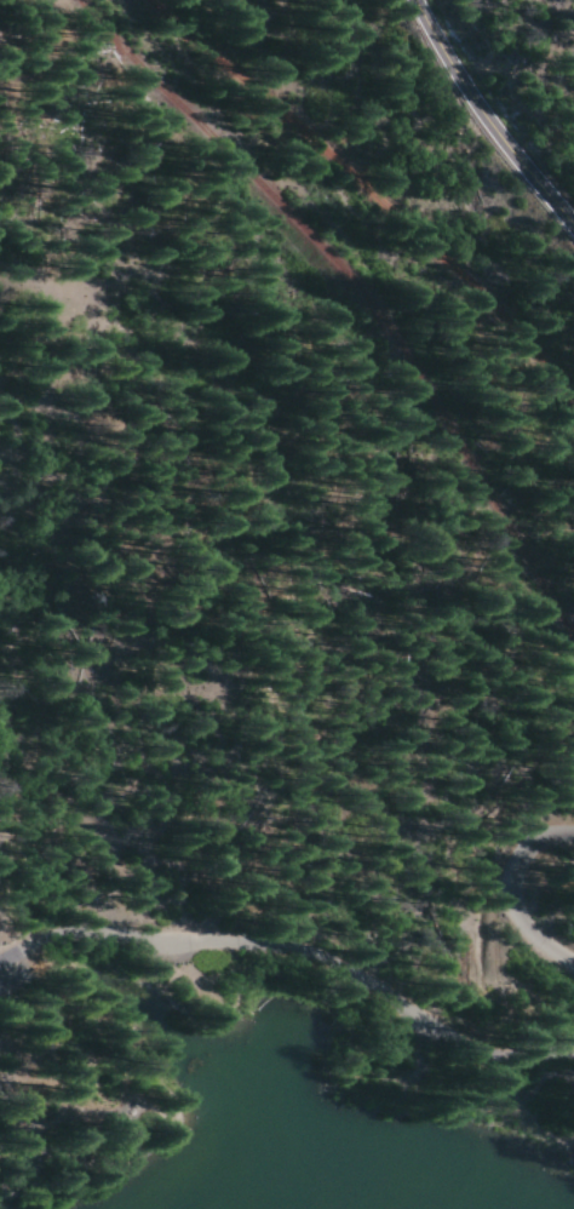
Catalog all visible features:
road: (493, 113)
road: (517, 892)
road: (299, 951)

